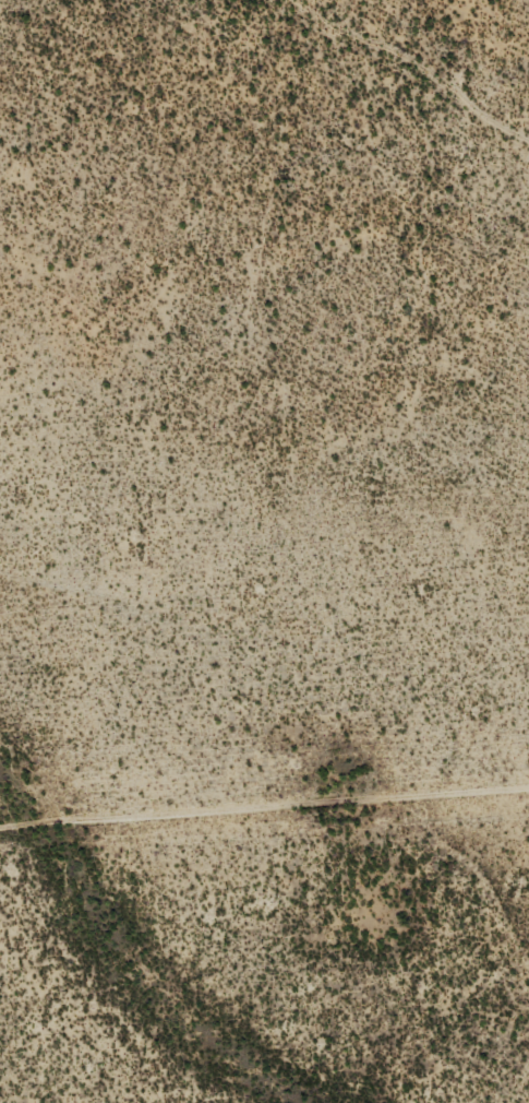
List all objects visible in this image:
road: (398, 60)
road: (264, 802)

